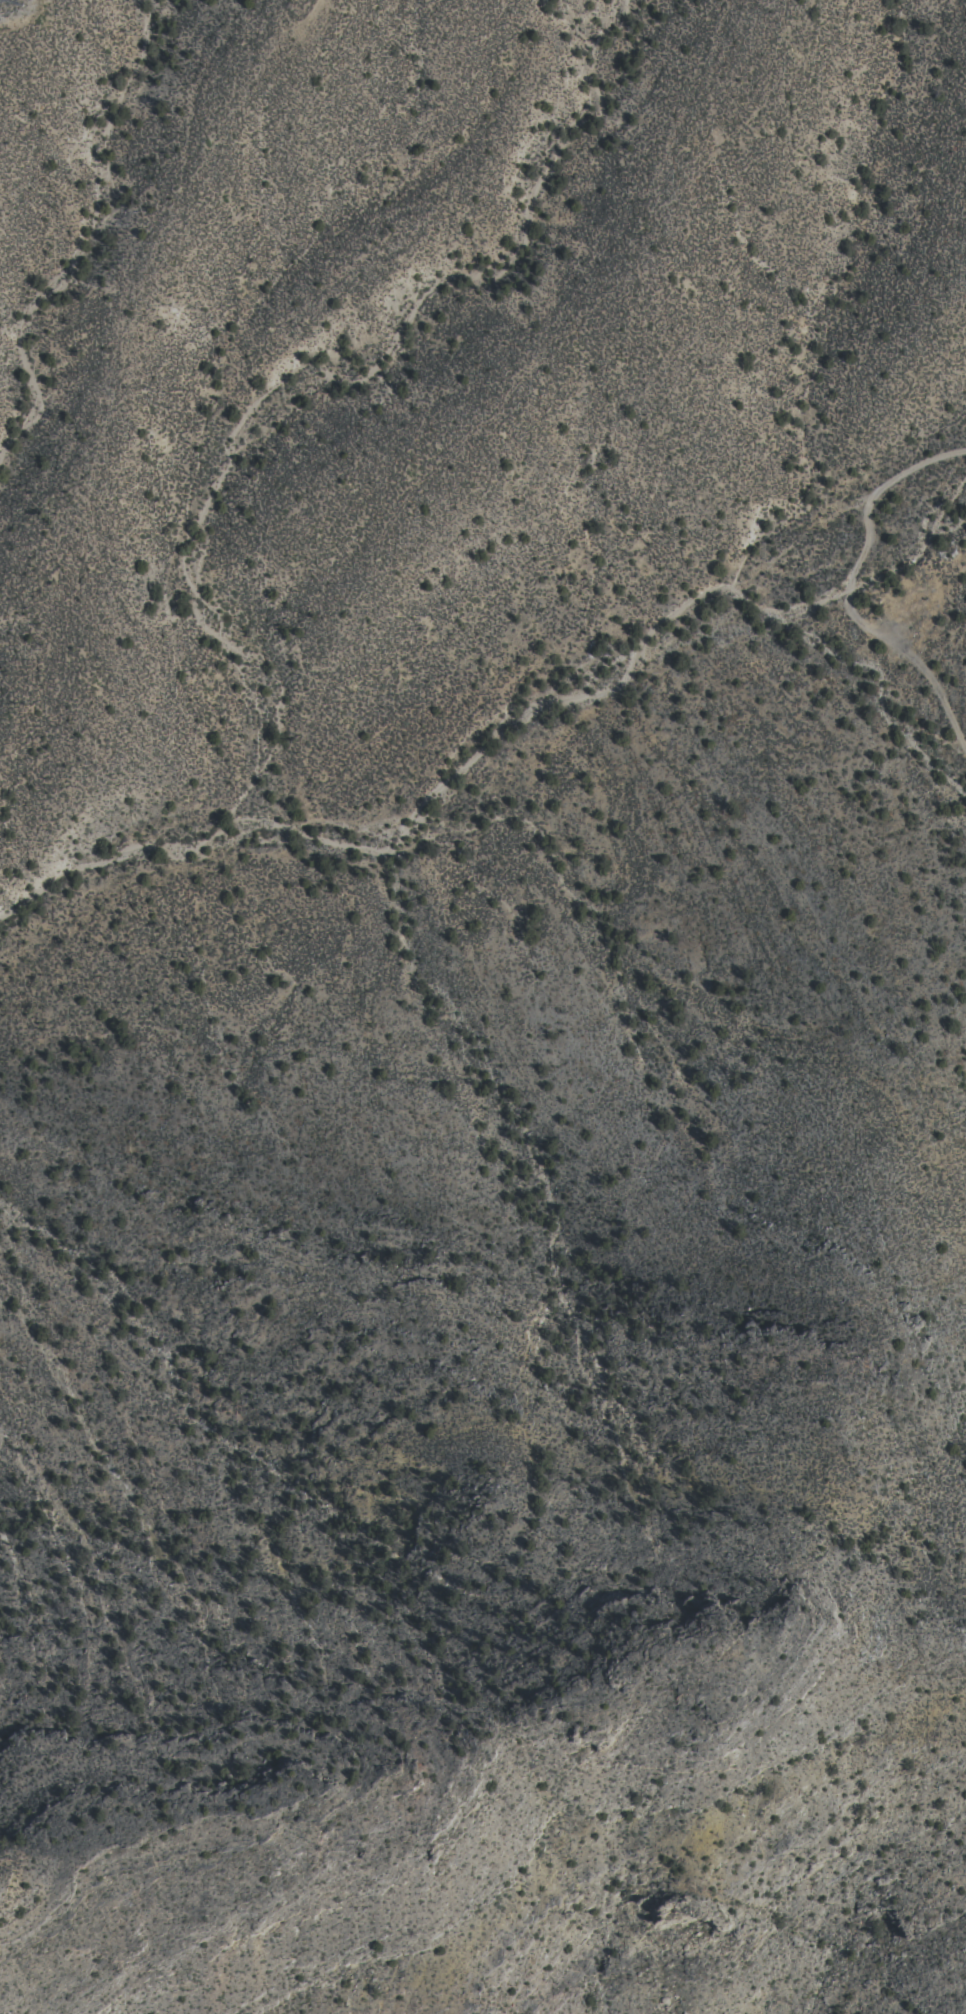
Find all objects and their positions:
road: (21, 19)
road: (847, 589)

